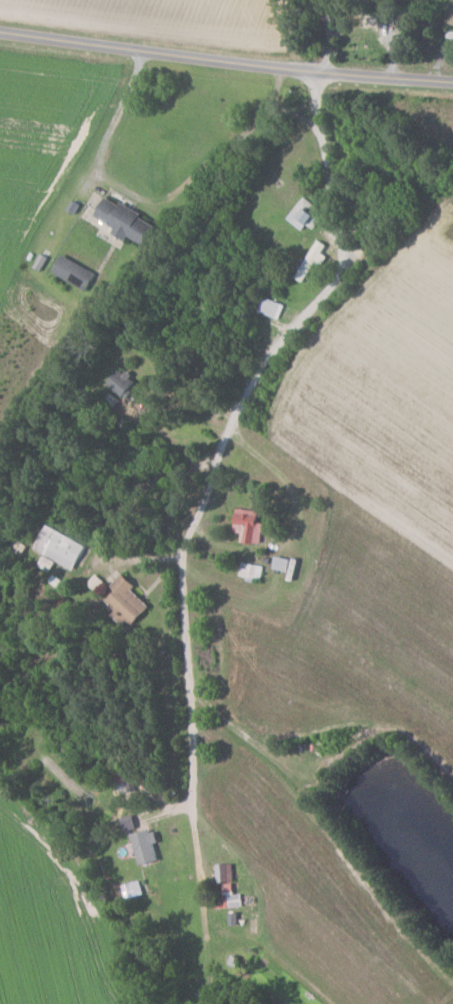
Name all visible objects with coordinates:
road: (331, 38)
road: (226, 61)
road: (112, 125)
building: (305, 213)
building: (127, 220)
building: (313, 260)
building: (271, 307)
building: (123, 382)
road: (116, 506)
road: (192, 518)
building: (249, 525)
building: (61, 547)
building: (252, 570)
building: (128, 602)
building: (147, 846)
building: (226, 873)
building: (233, 896)

